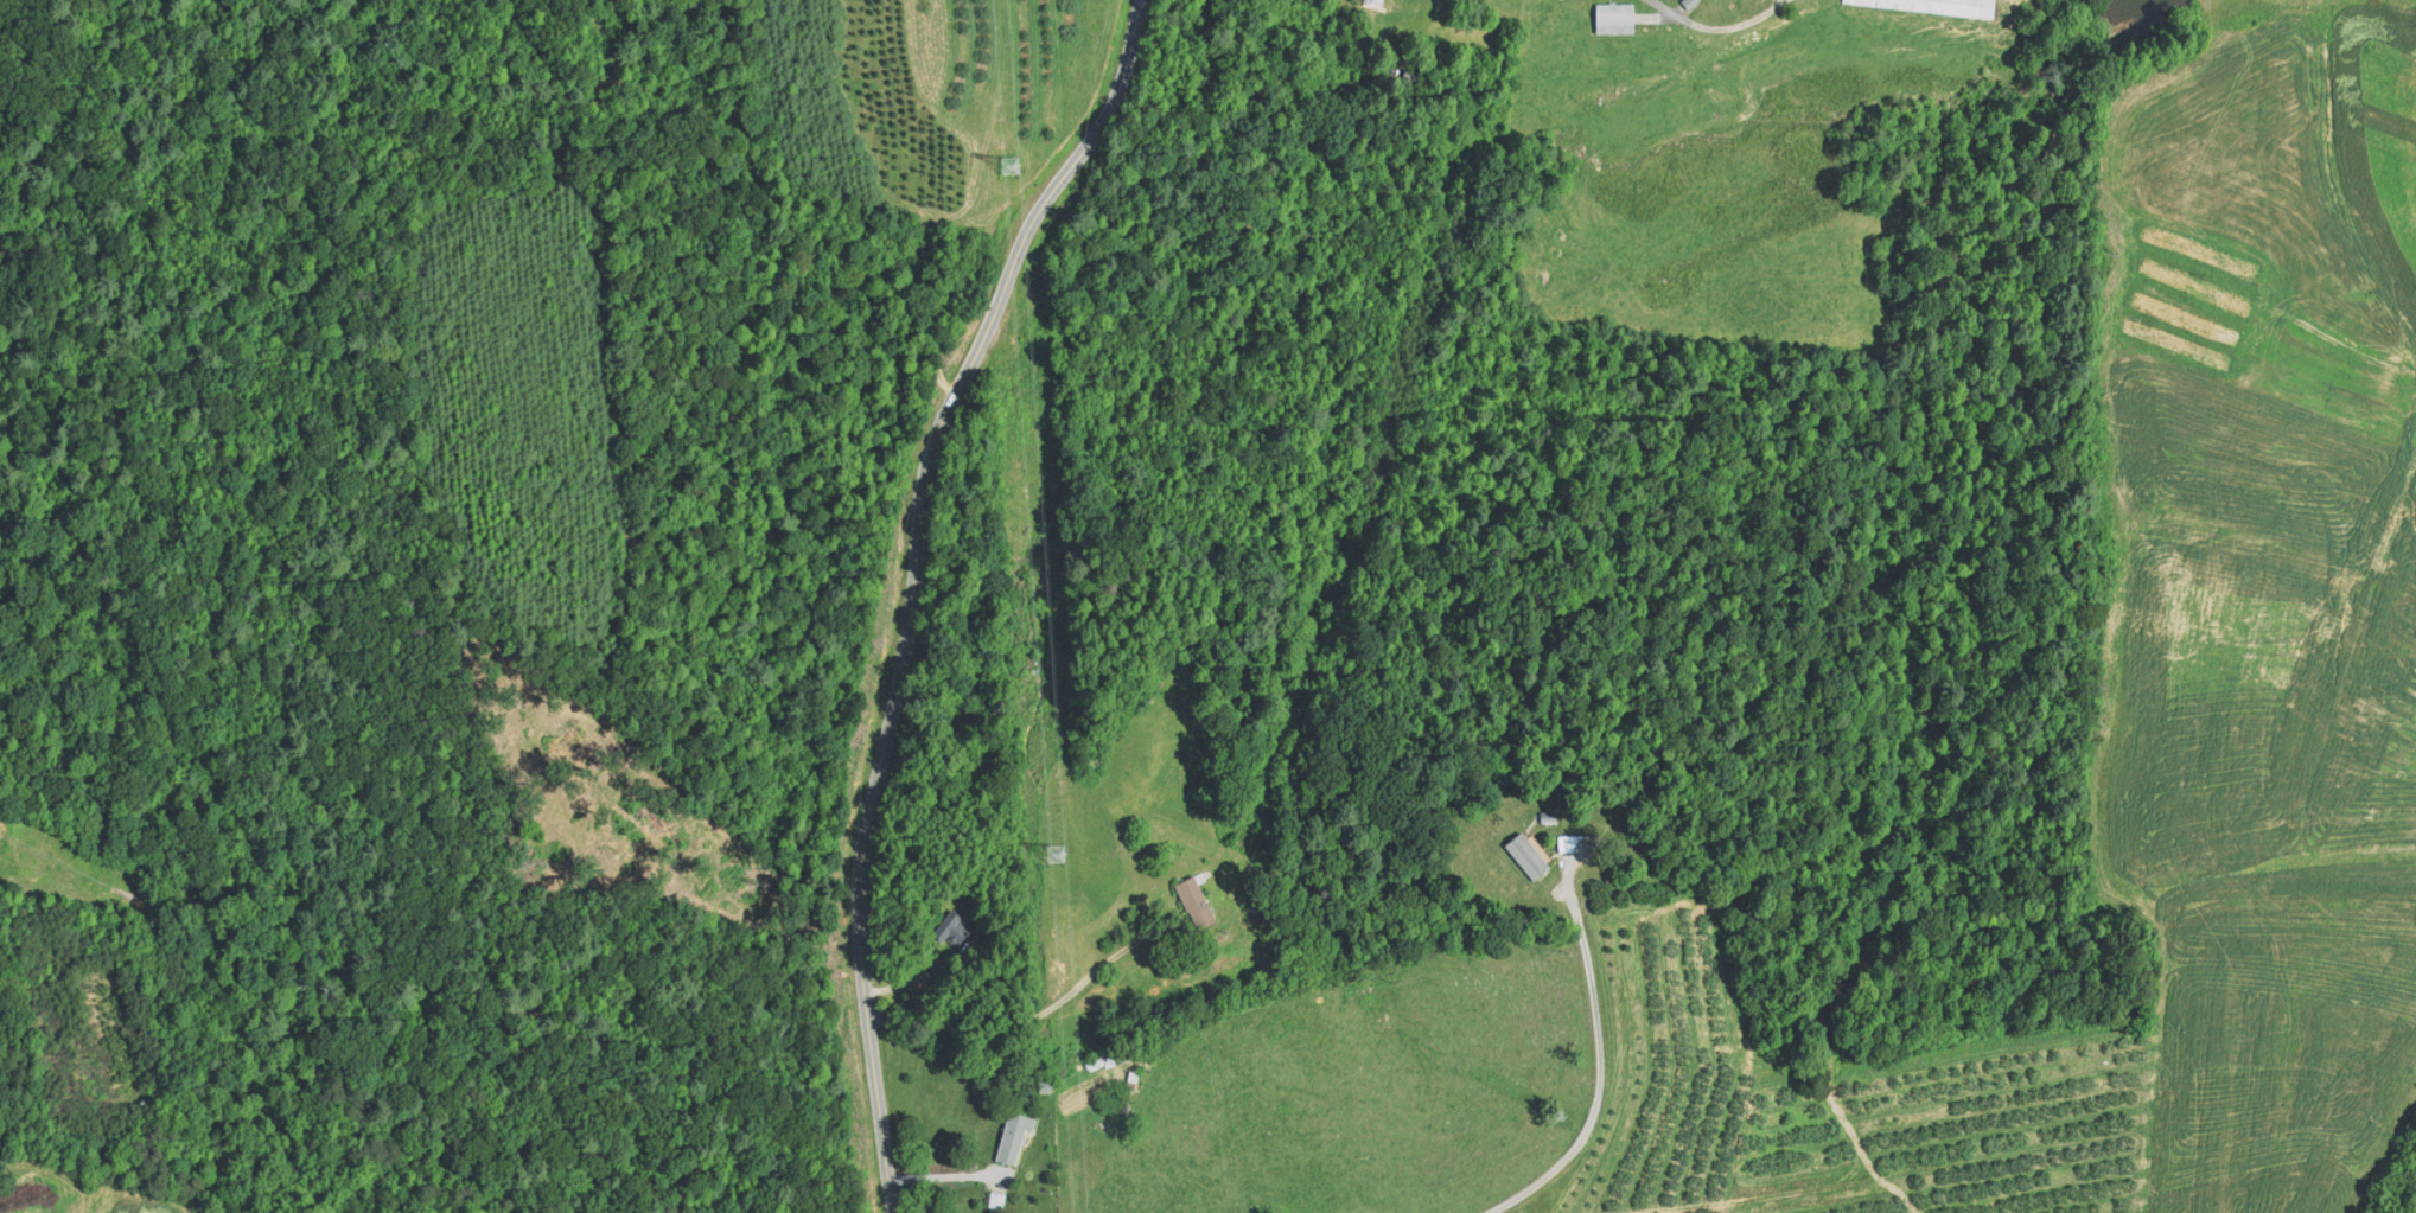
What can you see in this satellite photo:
building: (1372, 4)
road: (1663, 7)
building: (1926, 7)
building: (1614, 18)
power tower: (1008, 164)
road: (912, 585)
building: (1548, 817)
building: (1566, 843)
power tower: (1056, 853)
building: (1526, 854)
building: (1194, 898)
building: (951, 926)
road: (1038, 1017)
road: (1600, 1058)
building: (1044, 1085)
building: (1013, 1135)
building: (997, 1196)

